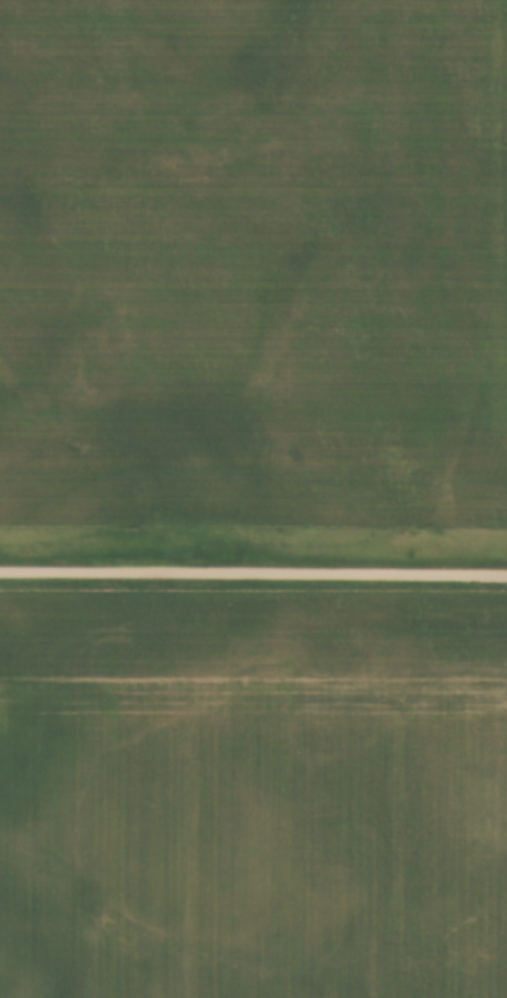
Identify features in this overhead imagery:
road: (253, 575)

